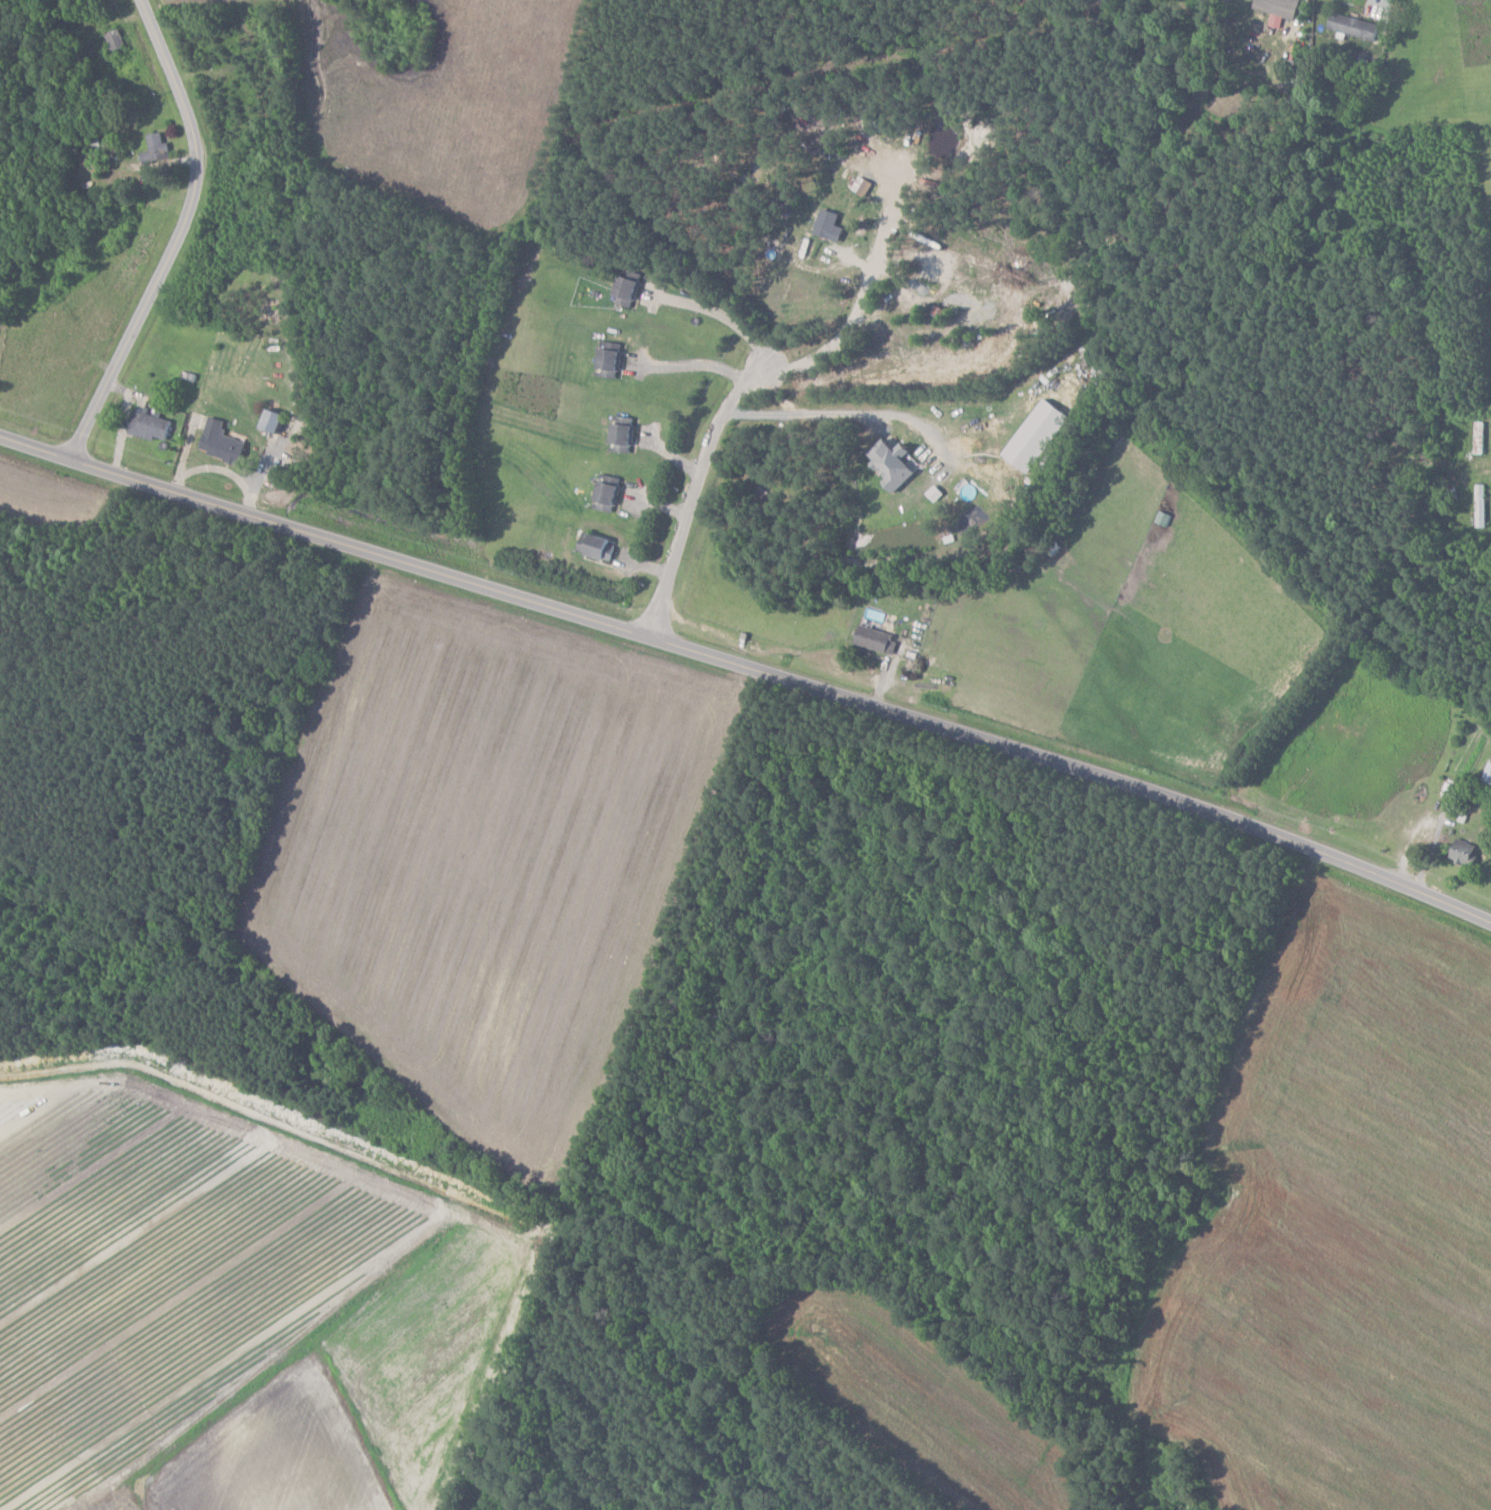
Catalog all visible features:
building: (1355, 26)
building: (115, 40)
building: (157, 149)
building: (831, 226)
road: (177, 234)
building: (626, 292)
road: (721, 314)
road: (837, 337)
building: (611, 364)
road: (697, 365)
road: (842, 412)
building: (275, 421)
building: (151, 427)
building: (624, 437)
building: (222, 443)
building: (896, 464)
road: (694, 490)
building: (598, 547)
building: (878, 640)
road: (750, 664)

